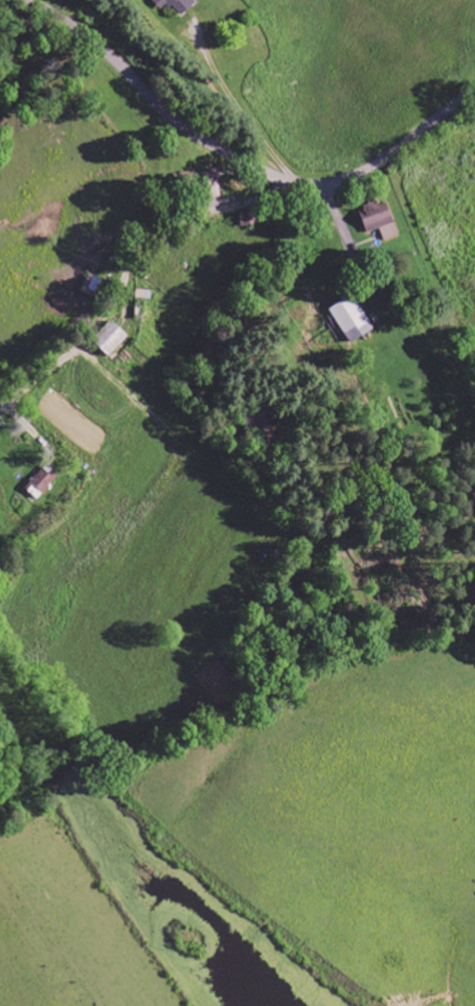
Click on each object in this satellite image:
building: (180, 6)
road: (241, 159)
building: (381, 221)
road: (117, 260)
building: (94, 286)
building: (354, 320)
building: (113, 339)
building: (44, 483)

